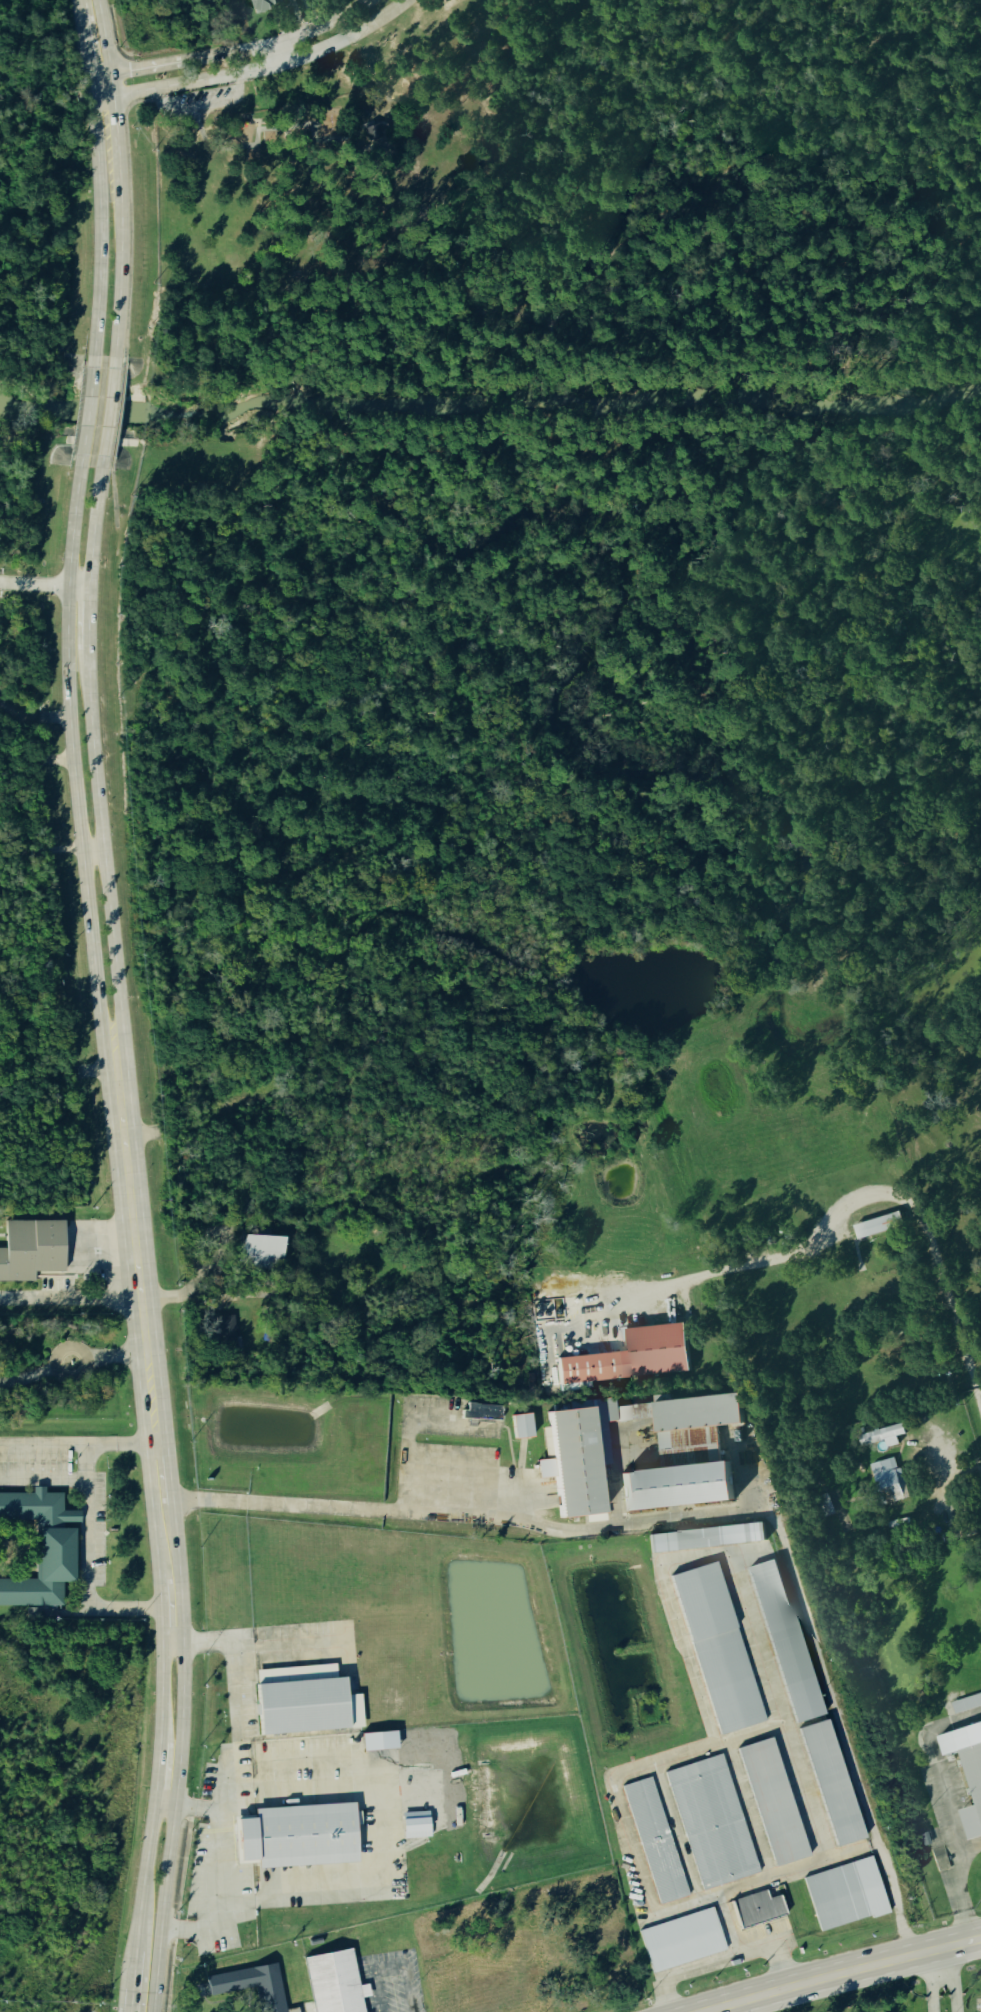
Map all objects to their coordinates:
road: (78, 2)
building: (264, 5)
road: (86, 50)
road: (233, 51)
road: (277, 54)
road: (256, 70)
parking lot: (201, 103)
road: (201, 104)
building: (293, 108)
road: (269, 128)
building: (369, 129)
road: (399, 177)
road: (120, 180)
road: (99, 229)
road: (300, 229)
road: (459, 256)
park: (28, 327)
river: (490, 407)
road: (86, 415)
road: (108, 416)
park: (559, 517)
road: (34, 582)
road: (33, 713)
road: (71, 769)
road: (93, 769)
road: (51, 851)
building: (875, 1221)
building: (31, 1247)
building: (253, 1249)
road: (136, 1255)
road: (763, 1259)
road: (124, 1298)
road: (950, 1303)
road: (71, 1347)
building: (657, 1350)
road: (80, 1352)
road: (67, 1364)
building: (482, 1413)
road: (407, 1417)
building: (518, 1421)
building: (882, 1437)
building: (573, 1441)
road: (885, 1441)
road: (78, 1444)
road: (643, 1464)
road: (742, 1474)
road: (43, 1481)
building: (887, 1482)
building: (669, 1483)
road: (469, 1518)
road: (87, 1527)
building: (702, 1534)
building: (40, 1548)
road: (100, 1609)
building: (781, 1636)
road: (250, 1638)
building: (713, 1645)
building: (301, 1697)
building: (966, 1704)
road: (162, 1708)
road: (182, 1726)
road: (840, 1732)
building: (379, 1740)
road: (361, 1756)
building: (826, 1776)
building: (972, 1790)
building: (768, 1797)
building: (708, 1817)
building: (416, 1826)
building: (292, 1832)
building: (649, 1835)
road: (211, 1857)
building: (841, 1890)
road: (959, 1894)
building: (755, 1907)
building: (678, 1936)
road: (391, 1968)
road: (840, 1972)
road: (954, 1979)
building: (332, 1981)
road: (931, 1981)
building: (249, 1982)
road: (133, 1993)
park: (929, 1998)
road: (735, 2007)

